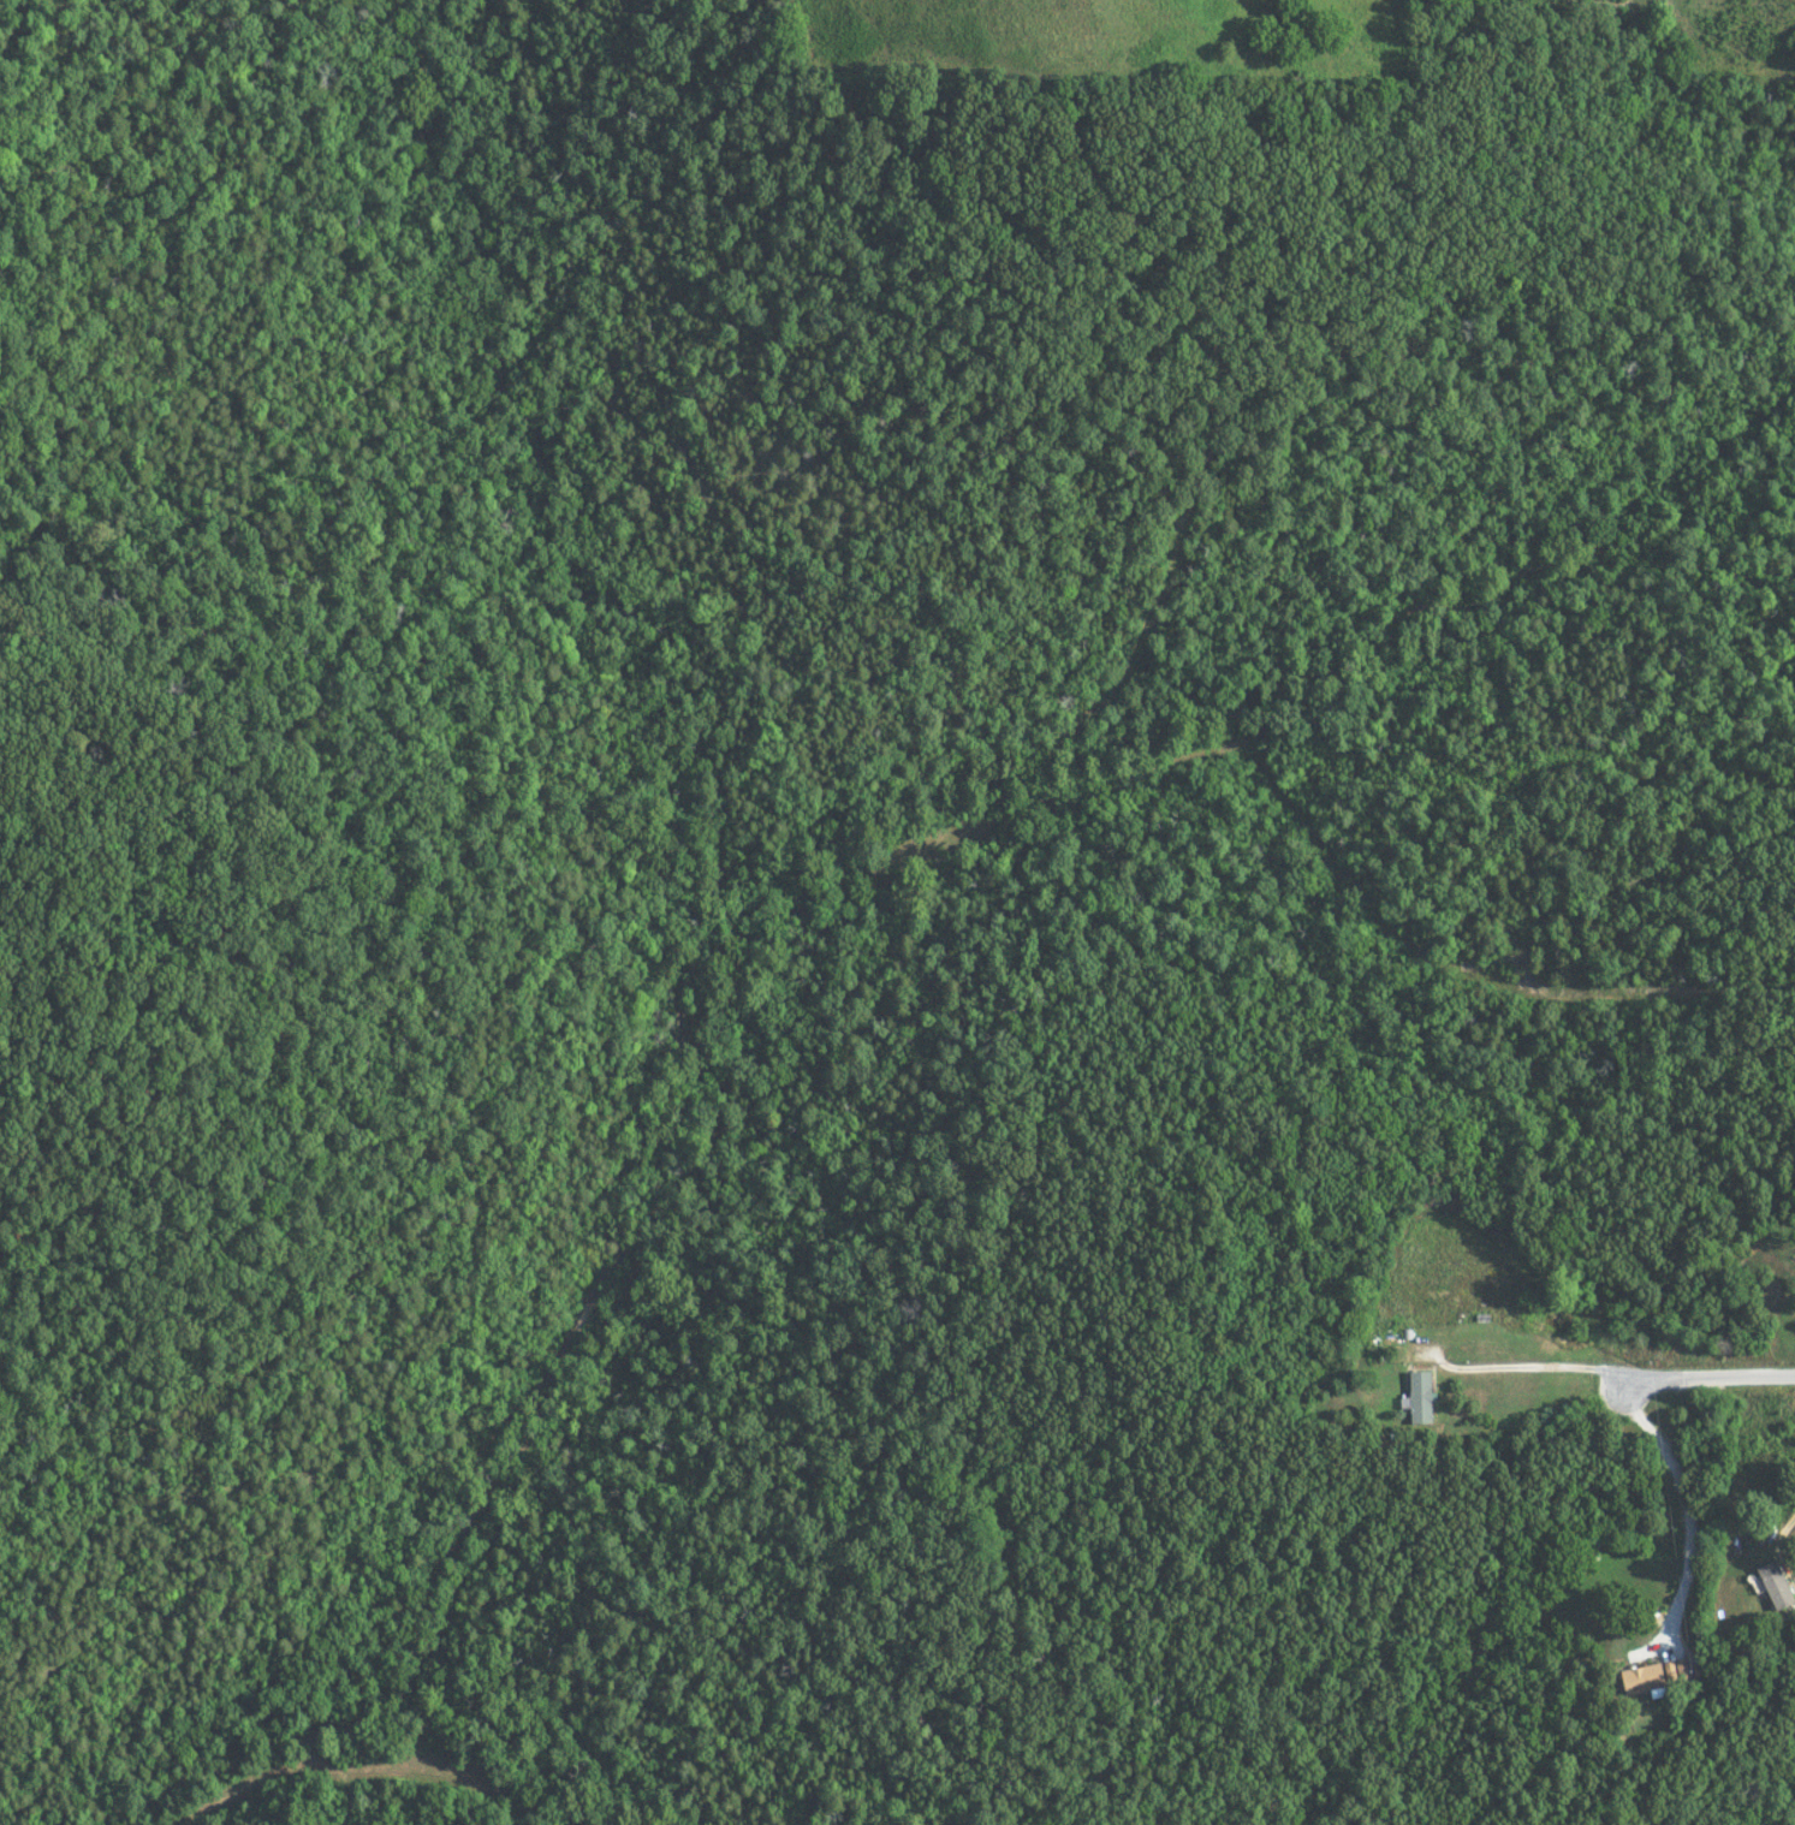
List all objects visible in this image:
road: (1523, 1373)
road: (1707, 1374)
building: (1423, 1397)
road: (1682, 1506)
building: (1776, 1585)
building: (1656, 1674)

